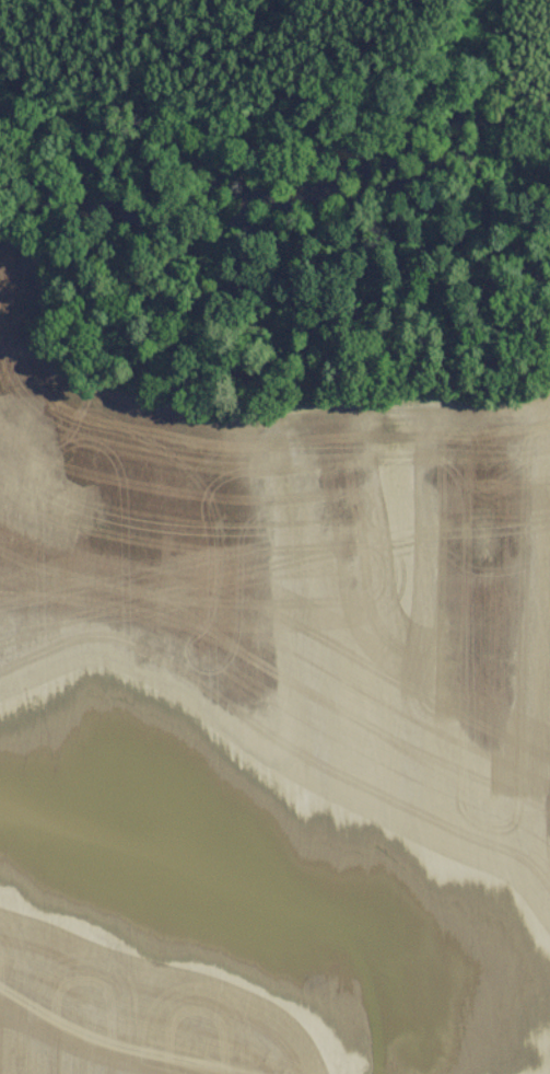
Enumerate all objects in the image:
road: (127, 1046)

